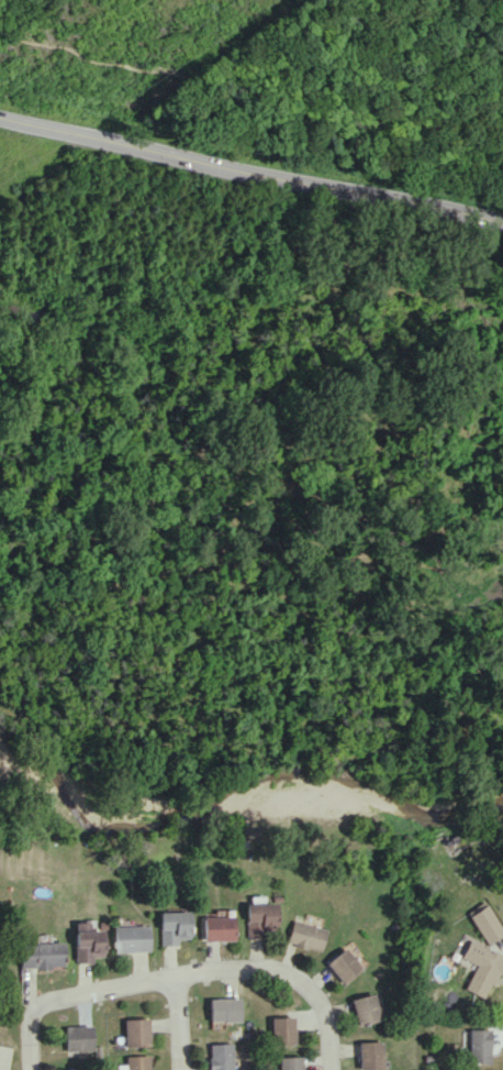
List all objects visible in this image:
road: (261, 85)
road: (251, 173)
river: (231, 785)
building: (258, 918)
building: (485, 924)
building: (172, 926)
building: (215, 927)
building: (304, 936)
building: (130, 938)
building: (86, 942)
building: (41, 955)
building: (343, 964)
building: (481, 967)
road: (192, 974)
building: (365, 1008)
building: (222, 1010)
road: (179, 1023)
building: (281, 1030)
building: (136, 1032)
building: (79, 1037)
road: (29, 1040)
building: (476, 1046)
road: (328, 1049)
building: (369, 1055)
building: (220, 1056)
building: (135, 1062)
building: (289, 1062)

